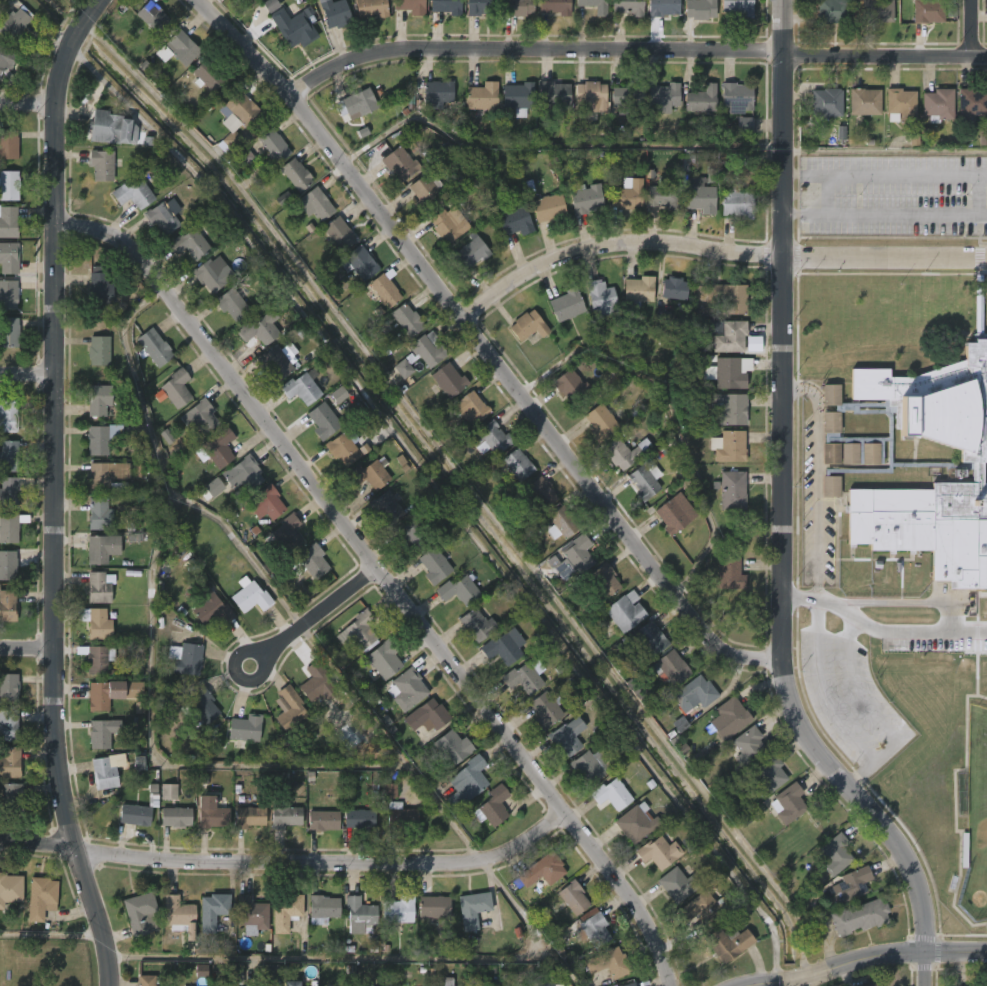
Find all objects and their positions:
building: (242, 0)
building: (412, 5)
building: (444, 6)
building: (554, 6)
building: (597, 6)
building: (631, 6)
building: (370, 7)
building: (482, 7)
building: (517, 7)
building: (664, 7)
building: (741, 7)
building: (701, 8)
building: (835, 11)
building: (877, 11)
building: (930, 11)
building: (333, 12)
building: (151, 16)
road: (85, 17)
building: (15, 22)
building: (293, 23)
road: (970, 28)
road: (68, 45)
building: (182, 47)
road: (632, 48)
building: (7, 56)
building: (208, 76)
road: (56, 78)
building: (438, 93)
building: (553, 93)
building: (592, 95)
building: (736, 96)
building: (518, 97)
building: (661, 97)
building: (700, 97)
building: (484, 98)
building: (623, 99)
building: (863, 101)
building: (973, 101)
building: (360, 102)
road: (27, 104)
building: (825, 104)
building: (937, 104)
building: (900, 105)
building: (240, 108)
building: (744, 125)
building: (115, 129)
building: (982, 137)
building: (8, 144)
building: (274, 145)
road: (551, 145)
building: (245, 157)
building: (398, 162)
building: (100, 164)
road: (884, 173)
building: (298, 174)
building: (9, 185)
building: (135, 193)
building: (426, 193)
building: (627, 193)
road: (829, 193)
road: (977, 193)
building: (662, 196)
building: (282, 198)
building: (585, 199)
building: (700, 199)
building: (736, 202)
building: (317, 204)
building: (548, 208)
road: (884, 213)
building: (165, 216)
building: (513, 221)
building: (8, 222)
building: (446, 225)
building: (340, 233)
building: (191, 243)
road: (716, 250)
building: (470, 252)
building: (10, 257)
building: (361, 262)
building: (211, 274)
building: (99, 285)
building: (673, 288)
building: (636, 290)
building: (386, 291)
building: (8, 294)
building: (600, 297)
building: (731, 297)
building: (92, 303)
building: (233, 304)
building: (568, 305)
building: (408, 320)
building: (530, 326)
building: (259, 330)
building: (9, 332)
building: (731, 336)
road: (481, 343)
building: (154, 347)
building: (425, 349)
building: (100, 351)
building: (276, 363)
building: (403, 368)
building: (727, 371)
road: (27, 374)
building: (448, 379)
building: (570, 386)
building: (303, 387)
building: (175, 388)
building: (338, 394)
building: (101, 398)
building: (729, 408)
building: (465, 411)
building: (8, 415)
building: (201, 417)
building: (324, 421)
building: (600, 422)
building: (490, 437)
building: (98, 441)
building: (730, 446)
building: (342, 447)
building: (217, 448)
building: (623, 453)
building: (9, 456)
building: (915, 461)
building: (515, 464)
building: (137, 471)
building: (244, 473)
building: (371, 474)
building: (106, 476)
road: (152, 479)
building: (644, 480)
building: (214, 487)
building: (12, 488)
building: (731, 489)
building: (539, 491)
road: (818, 495)
building: (267, 503)
building: (387, 508)
building: (675, 512)
building: (100, 515)
road: (779, 516)
building: (563, 523)
building: (9, 529)
building: (414, 533)
building: (285, 534)
road: (54, 548)
building: (102, 548)
building: (572, 558)
building: (314, 561)
building: (8, 565)
building: (435, 565)
building: (729, 573)
building: (276, 574)
road: (386, 578)
building: (604, 580)
building: (98, 587)
building: (460, 591)
building: (249, 595)
road: (899, 601)
building: (8, 606)
building: (211, 608)
building: (624, 611)
building: (242, 612)
road: (314, 616)
building: (96, 623)
building: (204, 625)
building: (477, 625)
building: (361, 629)
road: (895, 631)
building: (652, 638)
building: (503, 646)
road: (27, 648)
building: (97, 659)
building: (186, 659)
building: (386, 659)
building: (672, 667)
building: (179, 676)
building: (523, 676)
building: (316, 681)
building: (9, 688)
building: (408, 689)
building: (101, 694)
building: (696, 694)
building: (307, 698)
building: (203, 707)
building: (290, 710)
building: (545, 710)
building: (426, 716)
building: (731, 716)
building: (195, 722)
building: (283, 725)
building: (9, 726)
building: (245, 728)
building: (103, 733)
building: (566, 736)
building: (237, 744)
building: (749, 746)
building: (449, 748)
road: (374, 749)
road: (869, 753)
building: (10, 763)
building: (593, 765)
road: (143, 768)
building: (104, 770)
building: (770, 776)
building: (466, 782)
building: (389, 790)
building: (169, 792)
building: (610, 794)
building: (13, 798)
building: (790, 804)
building: (491, 806)
building: (212, 812)
building: (134, 815)
building: (286, 815)
building: (400, 816)
building: (175, 817)
building: (249, 817)
building: (359, 818)
building: (322, 820)
building: (635, 823)
building: (838, 851)
building: (658, 852)
road: (289, 863)
building: (542, 870)
building: (679, 883)
building: (853, 883)
building: (10, 888)
building: (574, 897)
building: (39, 898)
building: (325, 907)
building: (438, 907)
building: (475, 908)
building: (214, 909)
building: (400, 909)
building: (702, 910)
building: (284, 911)
building: (251, 912)
building: (137, 913)
building: (362, 914)
building: (177, 915)
building: (857, 917)
road: (533, 922)
building: (592, 928)
road: (51, 935)
building: (728, 943)
road: (330, 958)
building: (611, 962)
road: (866, 963)
building: (270, 972)
building: (234, 973)
building: (145, 980)
building: (447, 982)
building: (290, 984)
building: (544, 984)
building: (629, 984)
building: (366, 985)
building: (871, 985)

